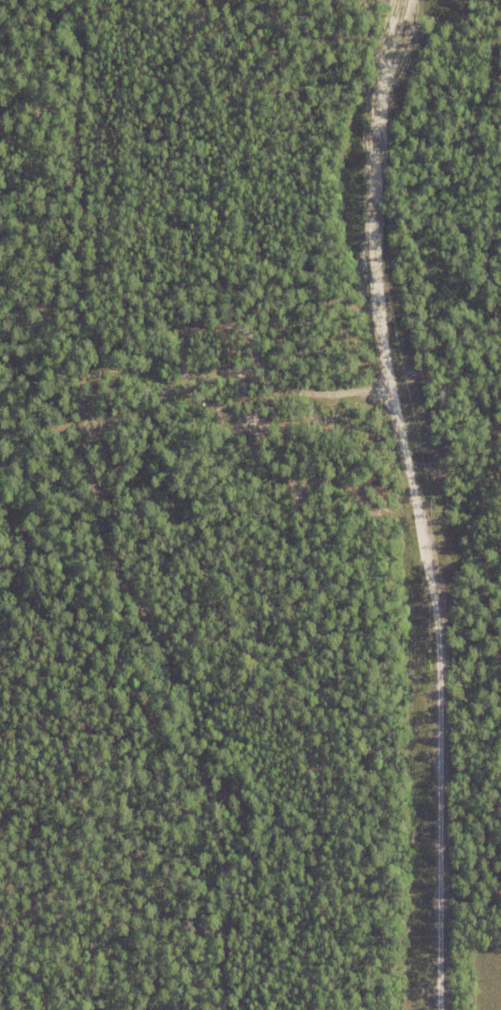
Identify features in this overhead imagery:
road: (412, 503)

